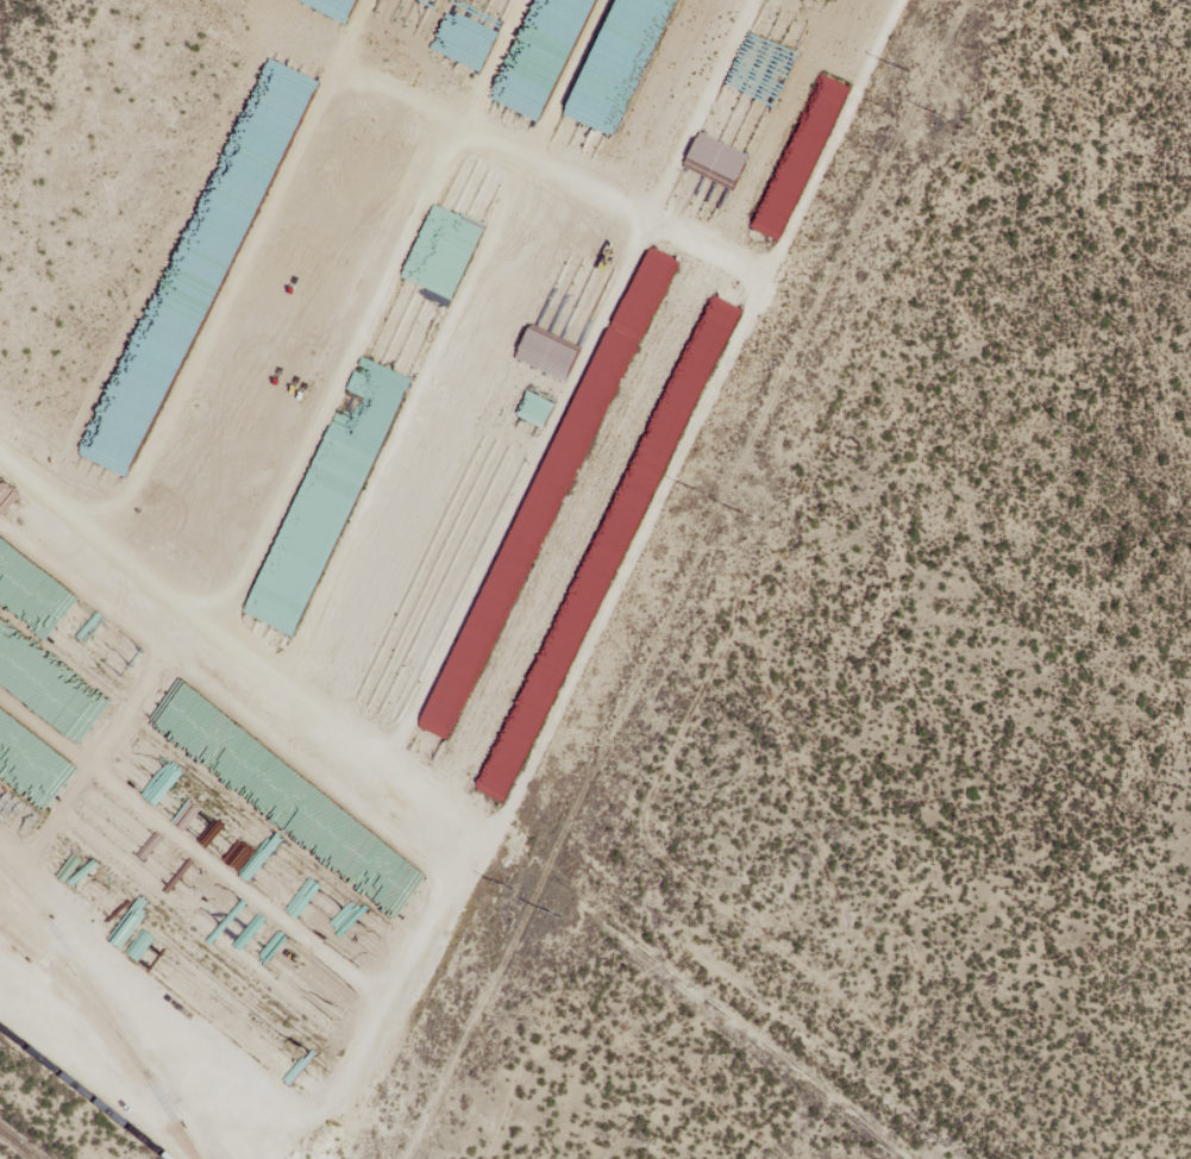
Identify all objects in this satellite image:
power tower: (905, 70)
building: (836, 92)
power tower: (941, 117)
building: (771, 226)
building: (713, 338)
building: (363, 387)
building: (537, 411)
power tower: (701, 493)
building: (550, 495)
power tower: (748, 516)
building: (300, 557)
building: (121, 658)
building: (509, 760)
building: (327, 822)
building: (395, 887)
power tower: (509, 887)
building: (324, 914)
power tower: (556, 914)
building: (142, 946)
building: (327, 994)
building: (230, 1009)
railway: (17, 1145)

